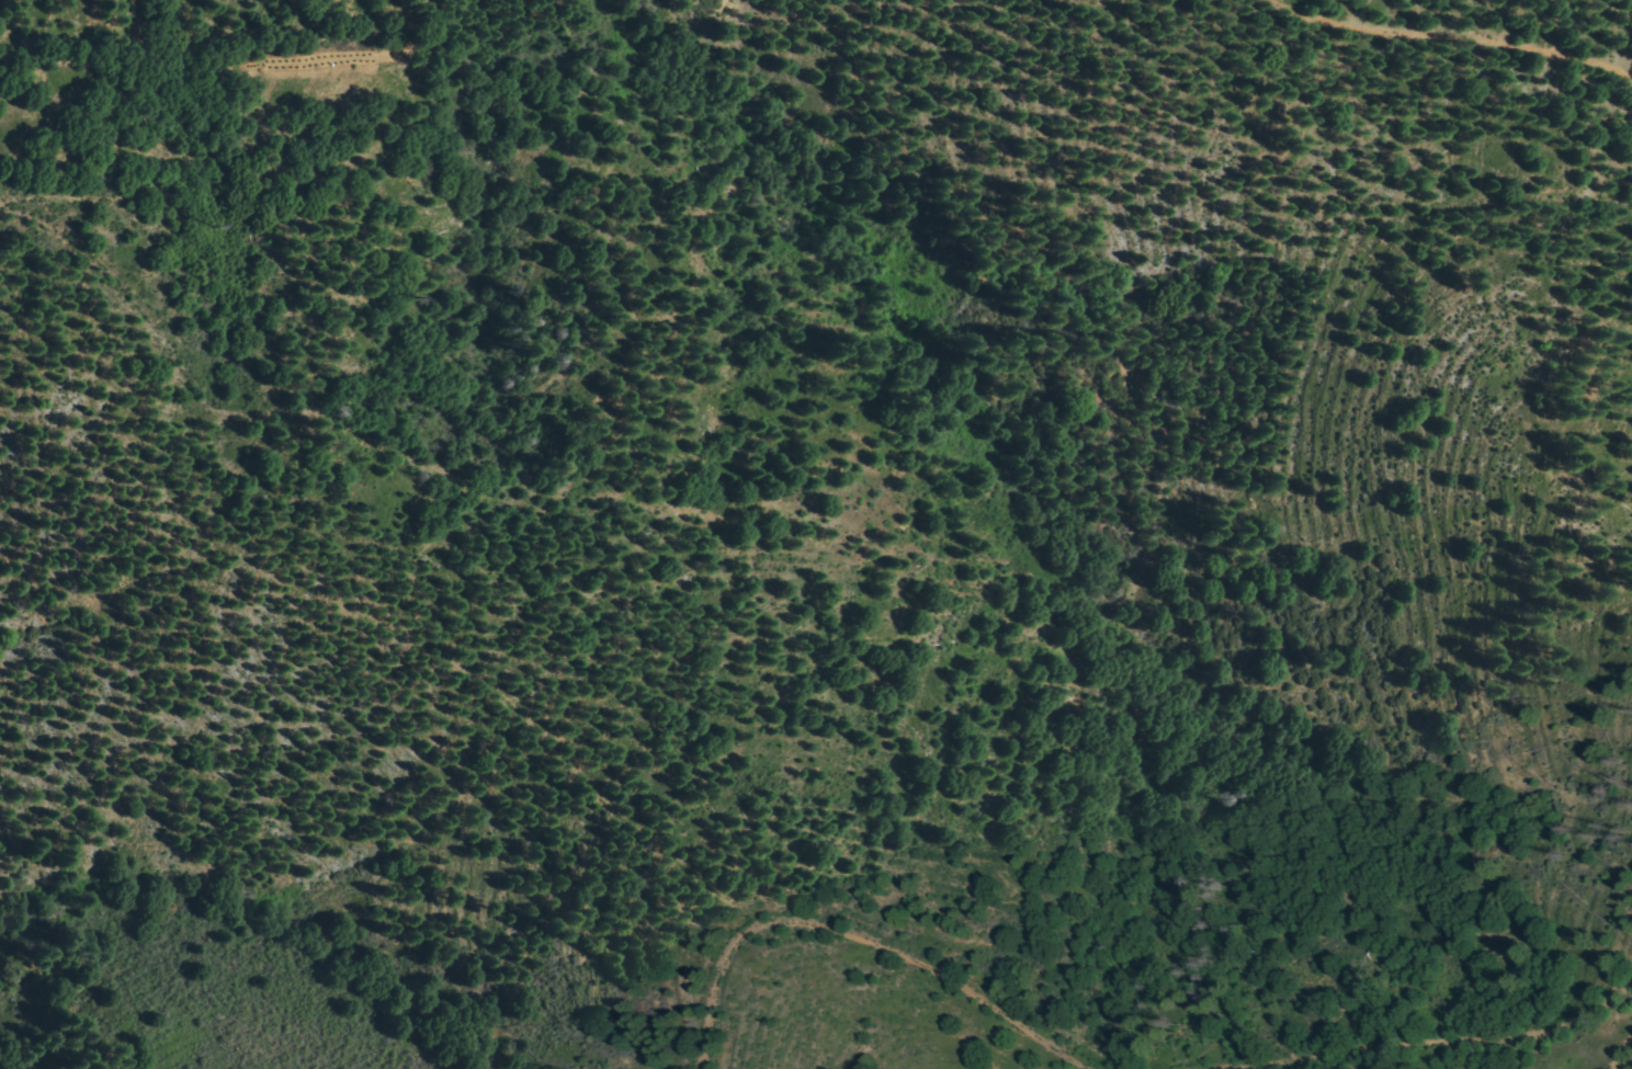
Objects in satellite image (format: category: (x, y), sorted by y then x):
road: (862, 941)
road: (1480, 1045)

